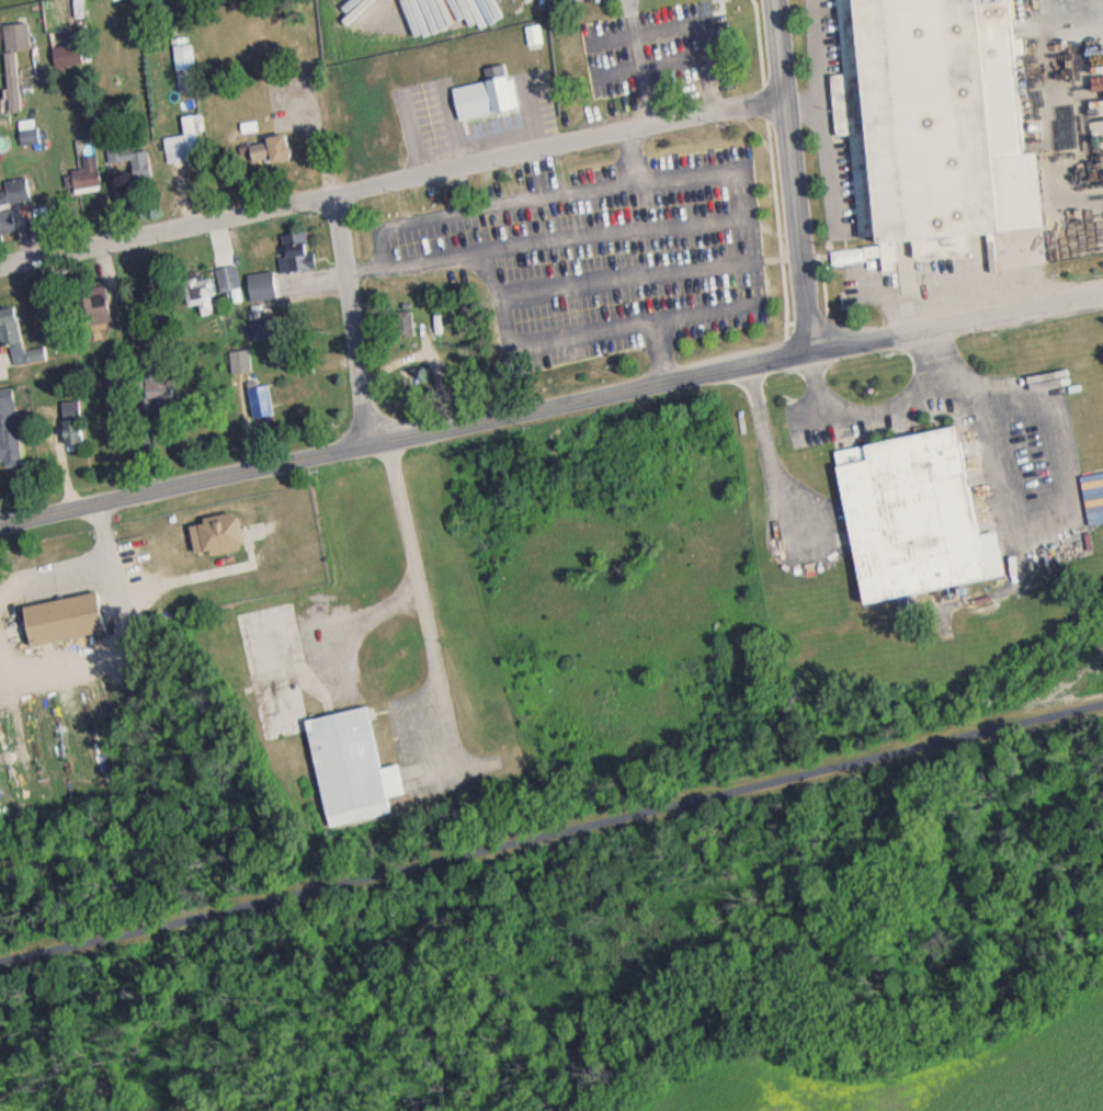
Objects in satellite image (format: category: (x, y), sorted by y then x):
building: (432, 14)
road: (1079, 19)
road: (625, 20)
road: (659, 32)
building: (58, 34)
building: (11, 65)
building: (480, 101)
building: (930, 120)
building: (25, 139)
building: (178, 152)
building: (263, 156)
road: (630, 159)
building: (126, 162)
road: (789, 177)
building: (83, 179)
road: (388, 180)
road: (638, 184)
building: (10, 206)
road: (667, 228)
building: (292, 257)
road: (500, 277)
building: (225, 284)
building: (258, 292)
road: (531, 296)
building: (195, 299)
building: (89, 313)
road: (350, 317)
building: (400, 330)
building: (15, 347)
road: (948, 365)
building: (115, 385)
building: (155, 392)
road: (941, 404)
road: (550, 406)
building: (257, 409)
building: (67, 429)
building: (7, 437)
road: (767, 456)
building: (907, 523)
building: (213, 541)
road: (86, 564)
road: (420, 601)
building: (57, 624)
railway: (1089, 659)
building: (309, 728)
road: (550, 829)

